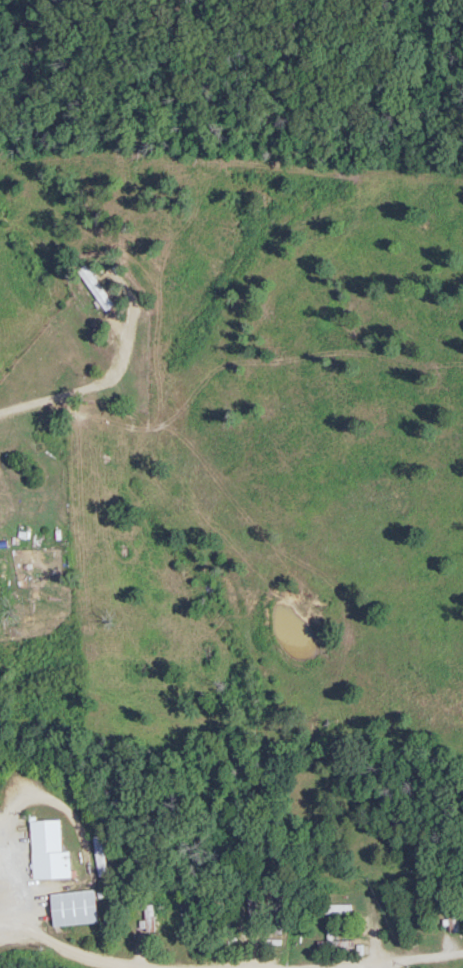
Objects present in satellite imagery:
building: (55, 850)
building: (81, 907)
building: (344, 909)
building: (450, 919)
road: (372, 944)
road: (61, 948)
road: (418, 961)
road: (370, 967)

